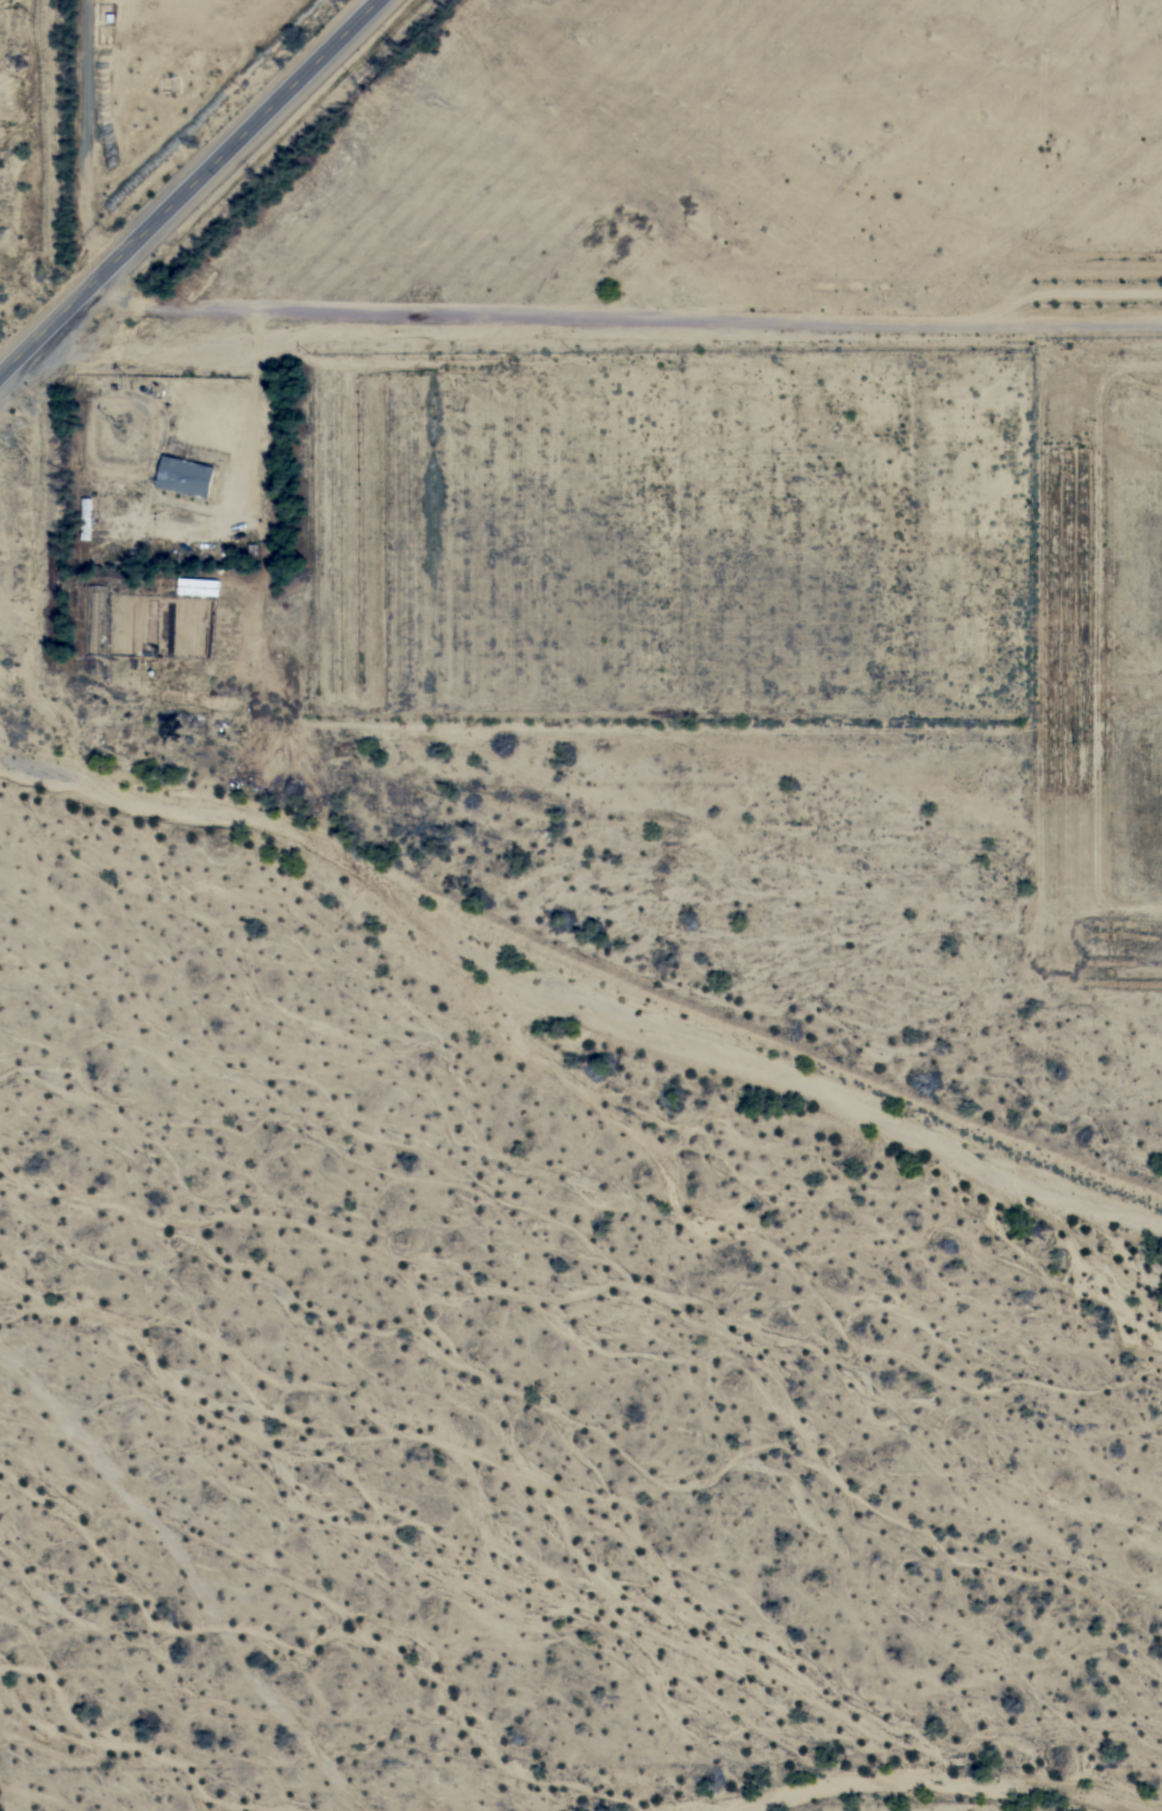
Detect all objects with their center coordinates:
road: (185, 183)
building: (236, 261)
building: (183, 476)
building: (86, 518)

